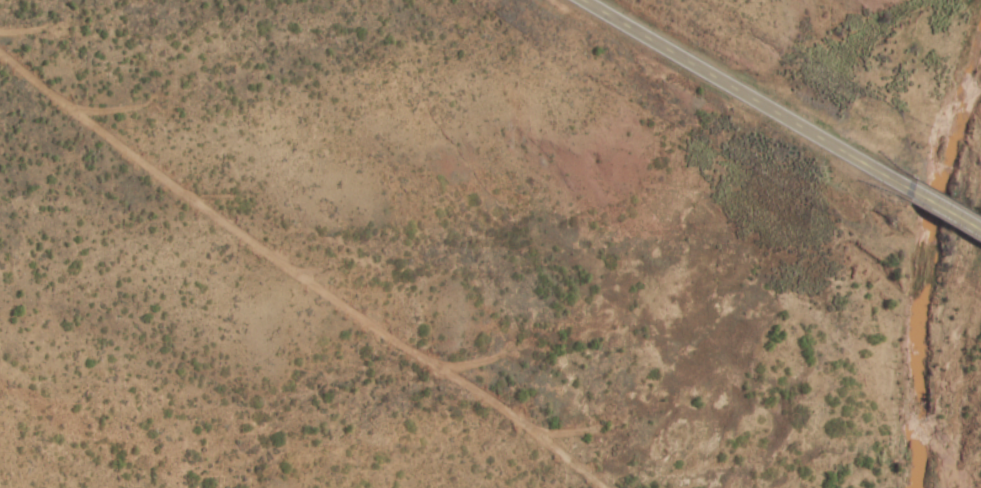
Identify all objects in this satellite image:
road: (745, 96)
road: (945, 210)

